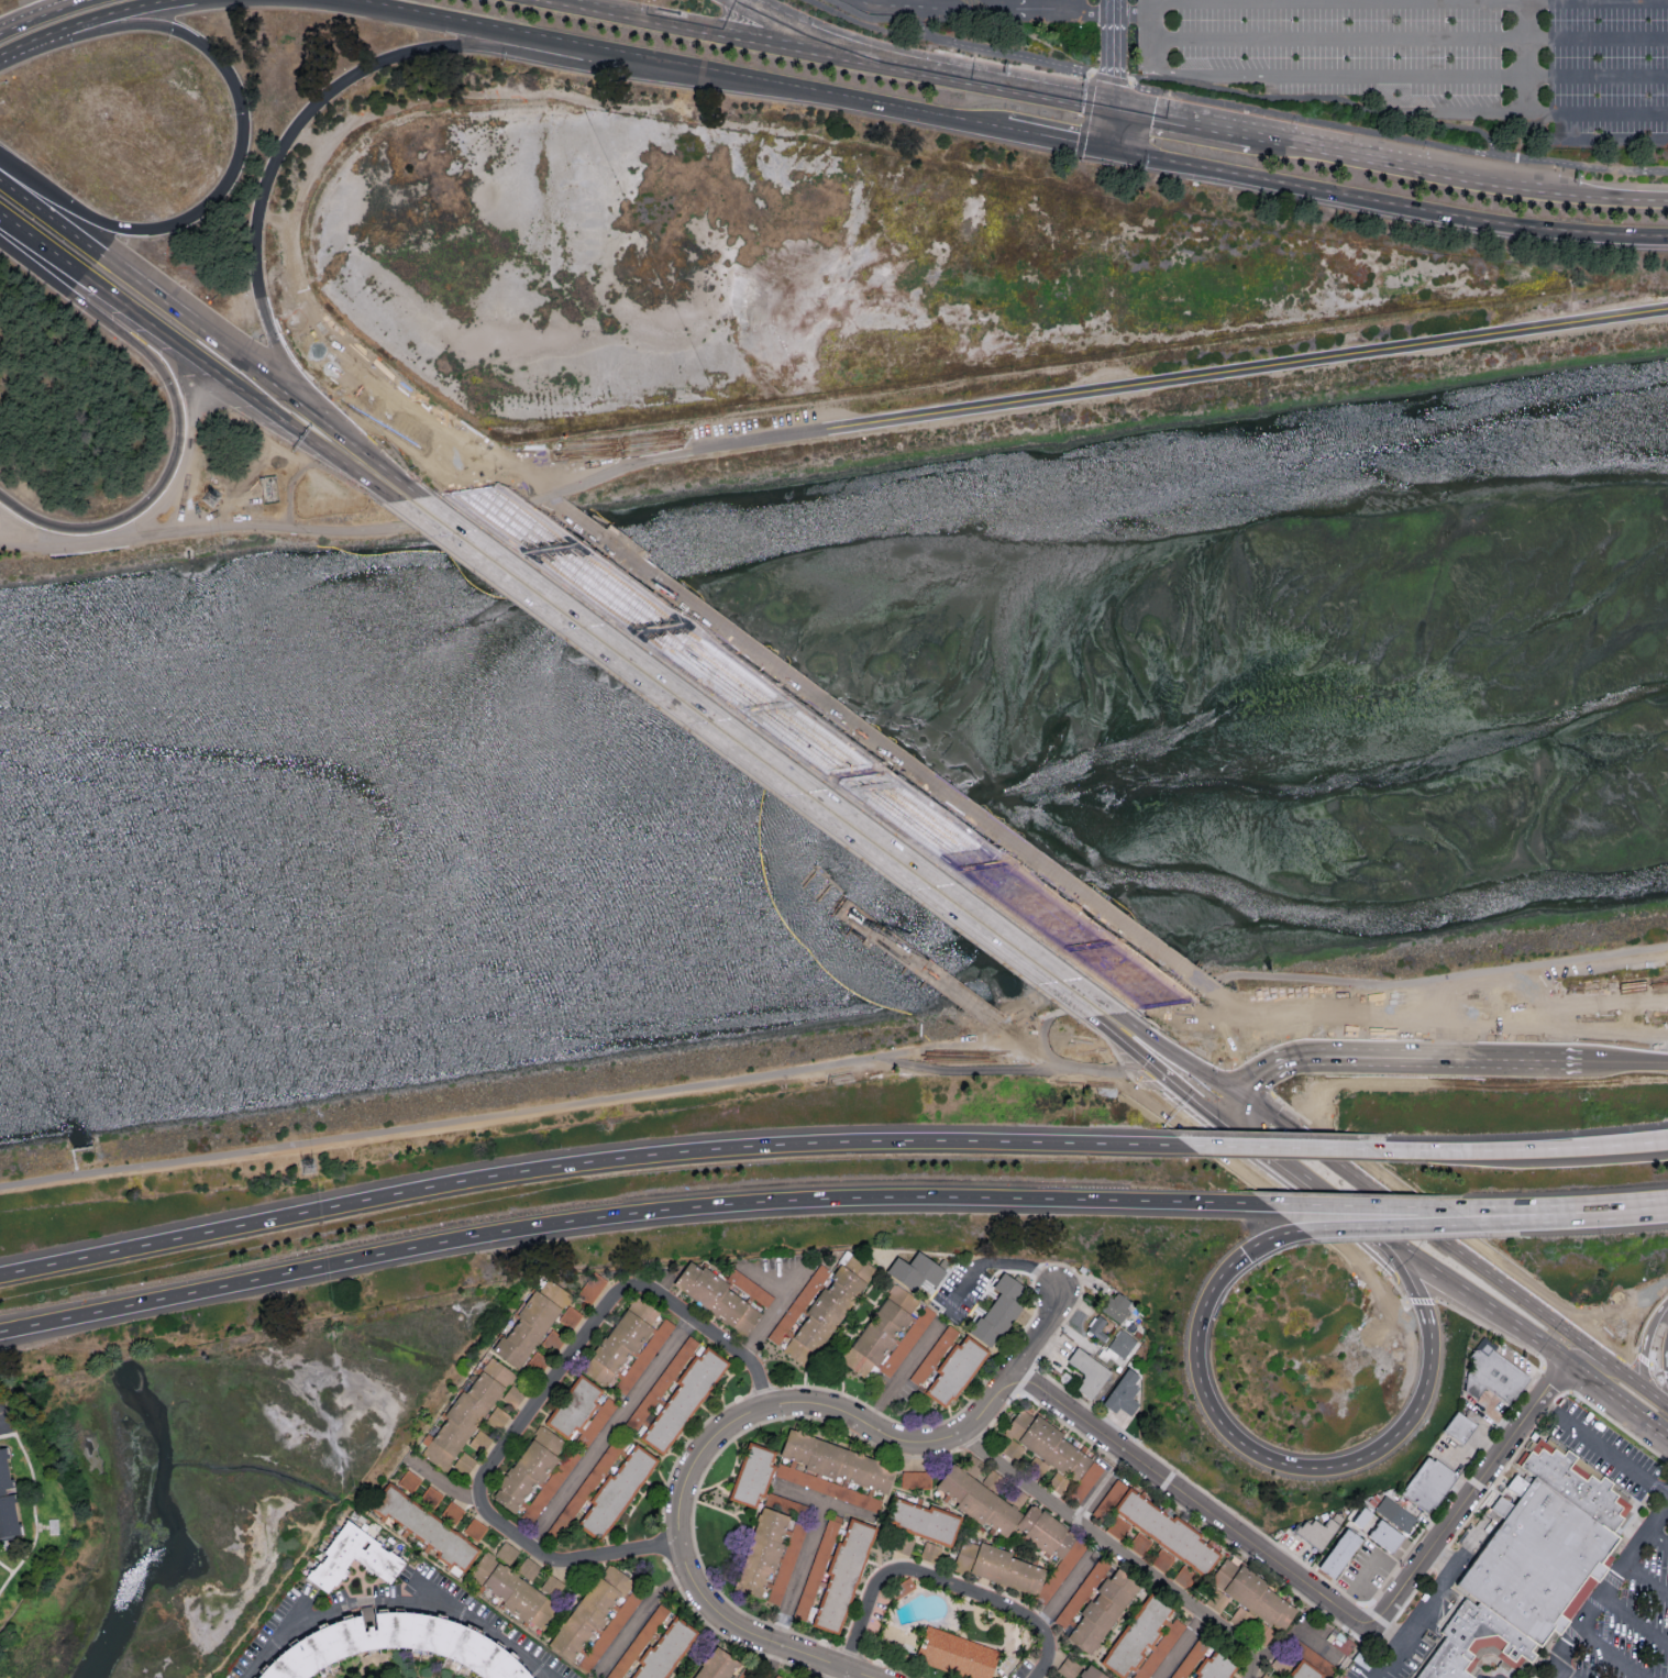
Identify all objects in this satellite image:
road: (1344, 1)
road: (985, 5)
road: (1081, 7)
road: (121, 11)
road: (41, 13)
road: (1134, 15)
road: (884, 18)
road: (868, 26)
road: (807, 30)
road: (716, 31)
road: (1412, 40)
road: (32, 44)
road: (1112, 51)
road: (1013, 55)
parking lot: (1400, 55)
road: (1531, 57)
road: (681, 66)
road: (353, 79)
road: (990, 79)
road: (1109, 79)
road: (1378, 79)
road: (1316, 99)
traffic signals: (1112, 103)
road: (1513, 113)
road: (1085, 115)
road: (1182, 115)
road: (1306, 120)
road: (1108, 125)
road: (1054, 137)
road: (1591, 143)
traffic signals: (1106, 147)
road: (1340, 147)
road: (1577, 164)
road: (238, 165)
road: (1500, 179)
road: (1619, 195)
road: (1385, 205)
road: (44, 253)
road: (181, 314)
road: (1126, 387)
road: (245, 394)
road: (334, 401)
road: (424, 421)
road: (428, 464)
road: (177, 466)
road: (539, 484)
power substation: (267, 488)
power tower: (213, 501)
river: (831, 522)
road: (325, 528)
road: (765, 751)
road: (833, 753)
road: (1225, 1020)
road: (1405, 1061)
road: (836, 1066)
road: (1605, 1066)
road: (1648, 1066)
road: (1060, 1068)
road: (1238, 1070)
road: (1172, 1071)
road: (1252, 1078)
traffic signals: (1252, 1086)
road: (1237, 1111)
traffic signals: (1229, 1124)
road: (1319, 1145)
road: (1293, 1151)
road: (1535, 1151)
road: (587, 1166)
power tower: (309, 1167)
road: (1319, 1193)
road: (1374, 1206)
road: (1635, 1206)
road: (1542, 1208)
road: (628, 1215)
road: (1548, 1216)
road: (1448, 1226)
road: (1400, 1230)
road: (1274, 1240)
road: (1463, 1252)
road: (1003, 1262)
building: (915, 1270)
road: (1418, 1283)
building: (592, 1287)
building: (749, 1287)
building: (552, 1290)
building: (717, 1298)
road: (776, 1305)
building: (1116, 1305)
building: (819, 1306)
building: (997, 1310)
road: (1487, 1312)
building: (570, 1316)
building: (1097, 1327)
building: (524, 1328)
building: (888, 1333)
road: (1644, 1339)
building: (1120, 1342)
building: (628, 1345)
road: (1594, 1350)
road: (1572, 1351)
road: (1641, 1355)
building: (946, 1366)
road: (1655, 1366)
building: (1087, 1371)
road: (1015, 1375)
road: (901, 1376)
road: (1664, 1376)
road: (1638, 1382)
road: (1549, 1383)
building: (1123, 1391)
building: (674, 1393)
road: (1616, 1400)
road: (542, 1405)
building: (573, 1405)
building: (465, 1411)
building: (496, 1416)
building: (596, 1421)
building: (1473, 1425)
road: (607, 1431)
building: (478, 1439)
building: (1042, 1443)
road: (1601, 1450)
building: (464, 1461)
building: (971, 1464)
road: (1281, 1465)
building: (833, 1469)
building: (533, 1475)
building: (751, 1475)
building: (992, 1477)
park: (227, 1478)
building: (916, 1478)
building: (1085, 1479)
building: (408, 1480)
road: (688, 1480)
building: (616, 1492)
building: (577, 1495)
building: (430, 1497)
building: (1018, 1498)
building: (5, 1499)
building: (785, 1504)
road: (1190, 1505)
road: (846, 1511)
building: (451, 1512)
building: (1394, 1513)
road: (1450, 1519)
building: (1363, 1520)
building: (923, 1521)
building: (1150, 1524)
building: (424, 1526)
building: (474, 1528)
building: (1315, 1531)
building: (1384, 1535)
building: (1051, 1536)
road: (1657, 1539)
building: (1139, 1543)
building: (904, 1545)
road: (806, 1548)
building: (930, 1552)
road: (1115, 1552)
building: (507, 1553)
building: (1338, 1553)
building: (769, 1555)
building: (375, 1559)
building: (816, 1566)
building: (1536, 1567)
building: (528, 1568)
road: (1369, 1575)
building: (842, 1576)
road: (1068, 1582)
building: (551, 1585)
road: (1644, 1585)
road: (942, 1587)
building: (902, 1588)
road: (1605, 1588)
building: (511, 1591)
building: (1247, 1593)
road: (275, 1598)
road: (393, 1604)
building: (1095, 1604)
road: (1418, 1610)
road: (640, 1615)
building: (596, 1618)
road: (1633, 1622)
building: (1252, 1625)
building: (1135, 1636)
building: (638, 1642)
building: (393, 1645)
road: (1179, 1646)
building: (664, 1649)
building: (955, 1654)
road: (1606, 1655)
building: (1190, 1658)
road: (771, 1662)
building: (715, 1664)
road: (386, 1665)
park: (390, 1665)
building: (1215, 1666)
building: (1069, 1667)
building: (1306, 1667)
building: (1091, 1673)
road: (1561, 1673)
building: (745, 1674)
road: (844, 1675)
building: (775, 1676)

